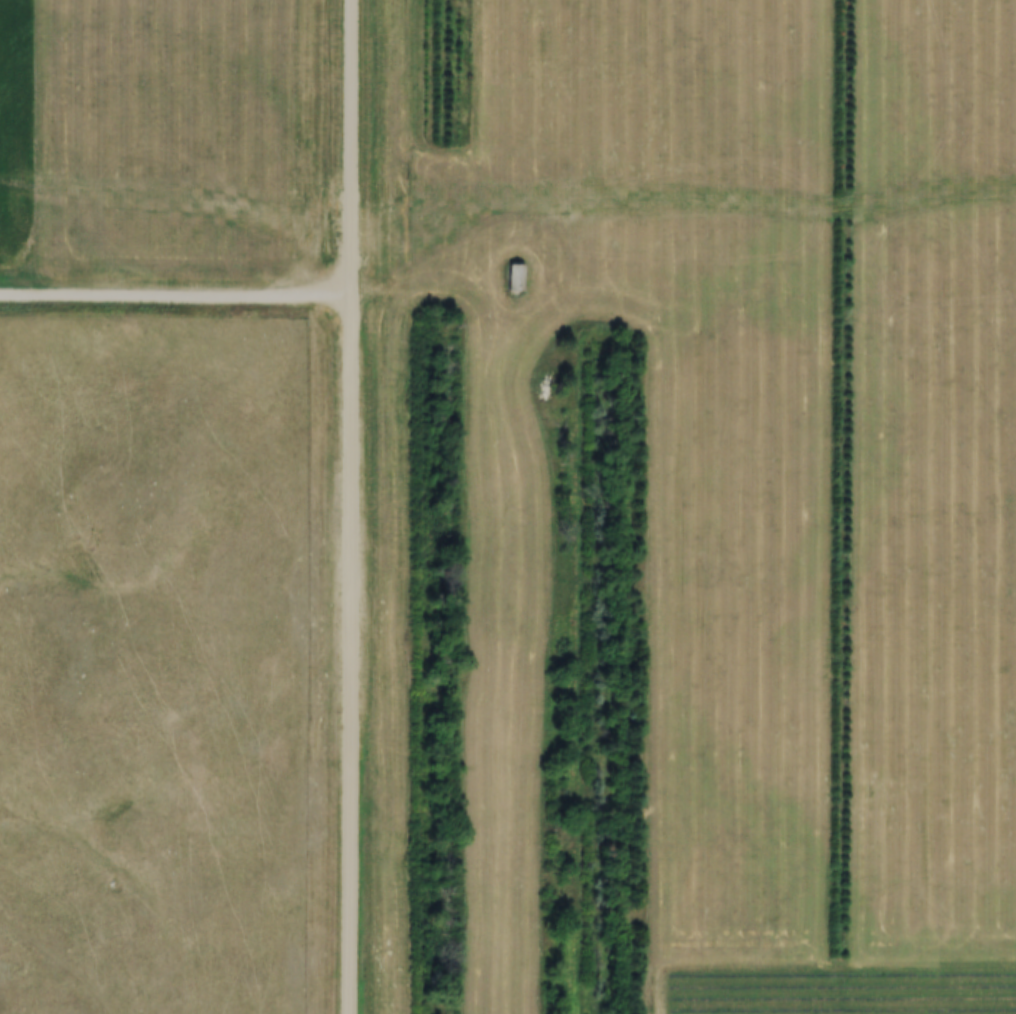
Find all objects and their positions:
building: (511, 275)
road: (355, 507)
road: (789, 1007)

